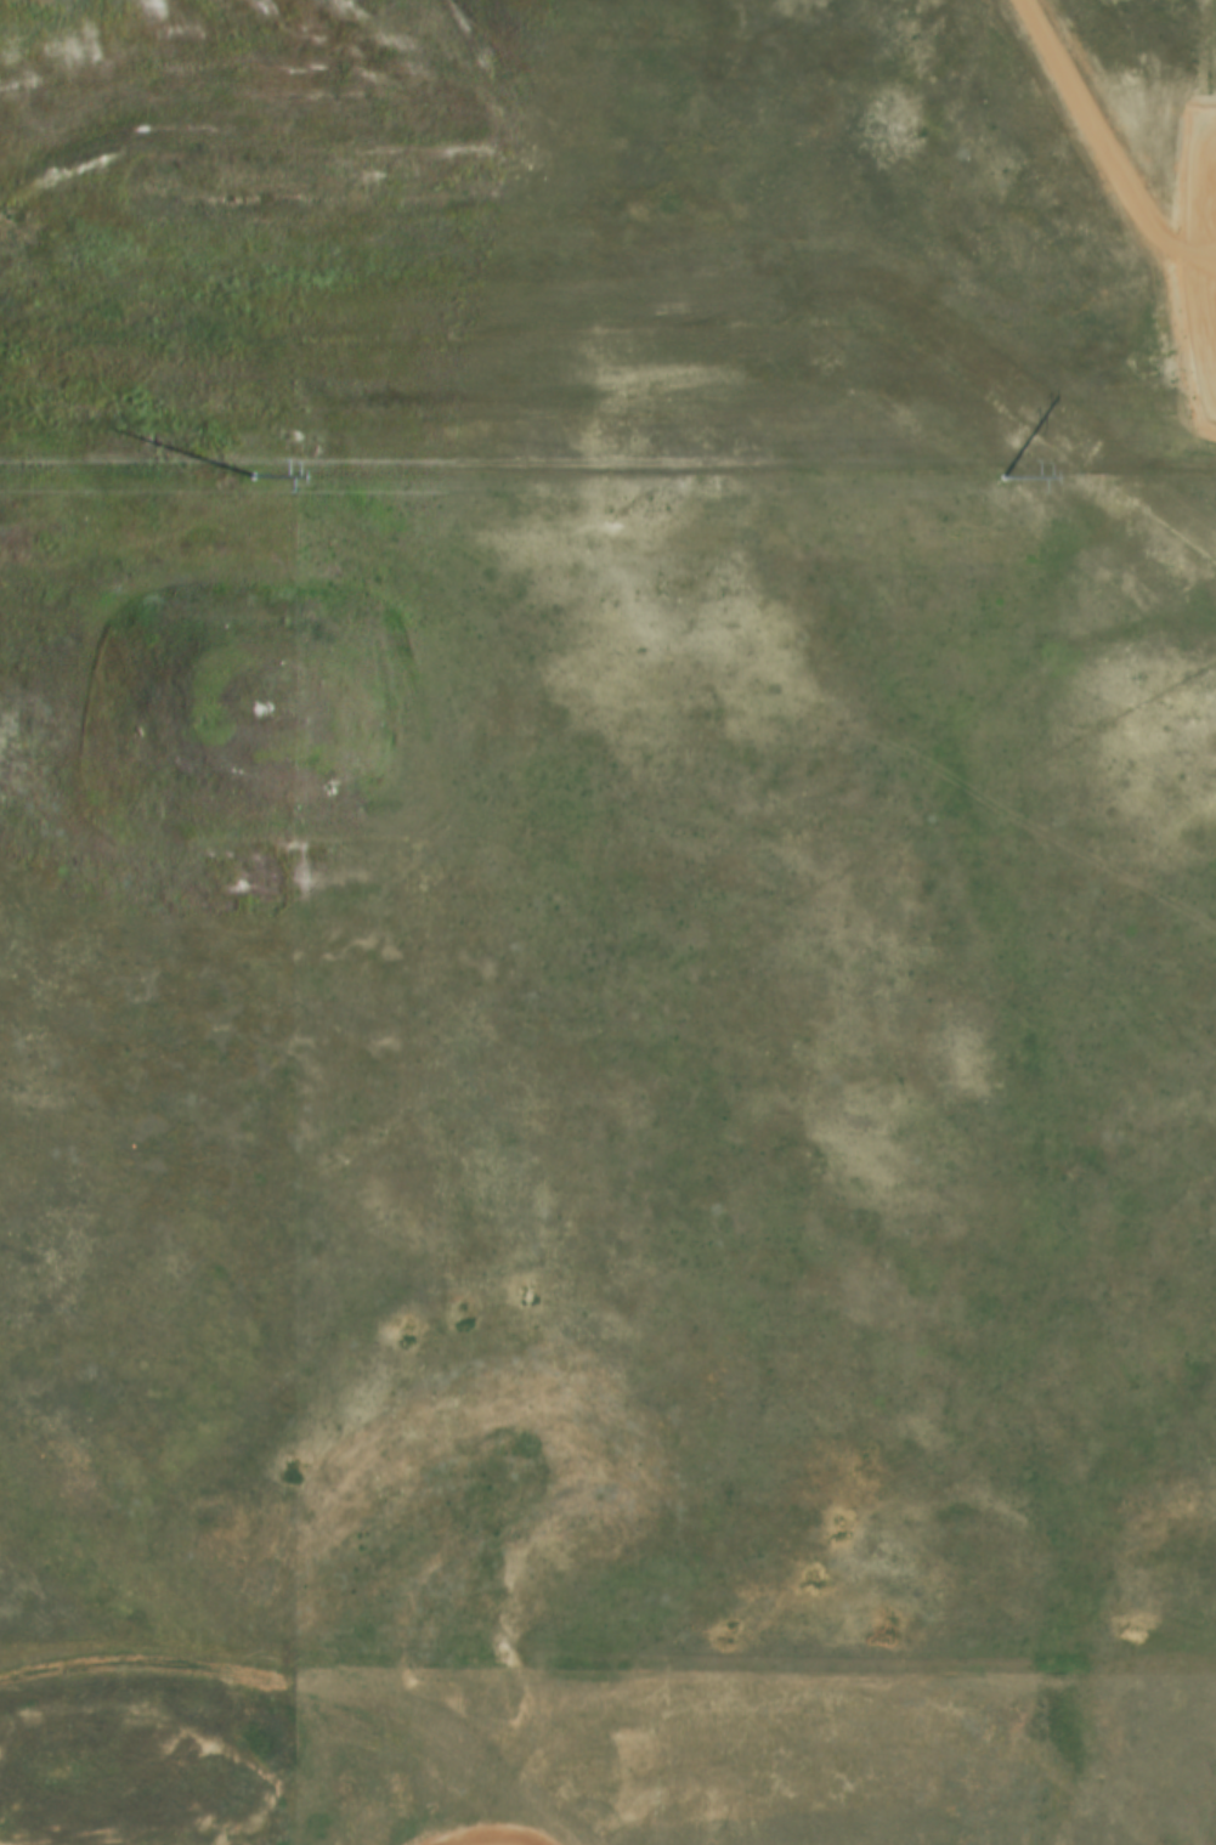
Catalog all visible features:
power tower: (241, 482)
power tower: (994, 482)
road: (141, 1662)
quarry: (662, 1715)

